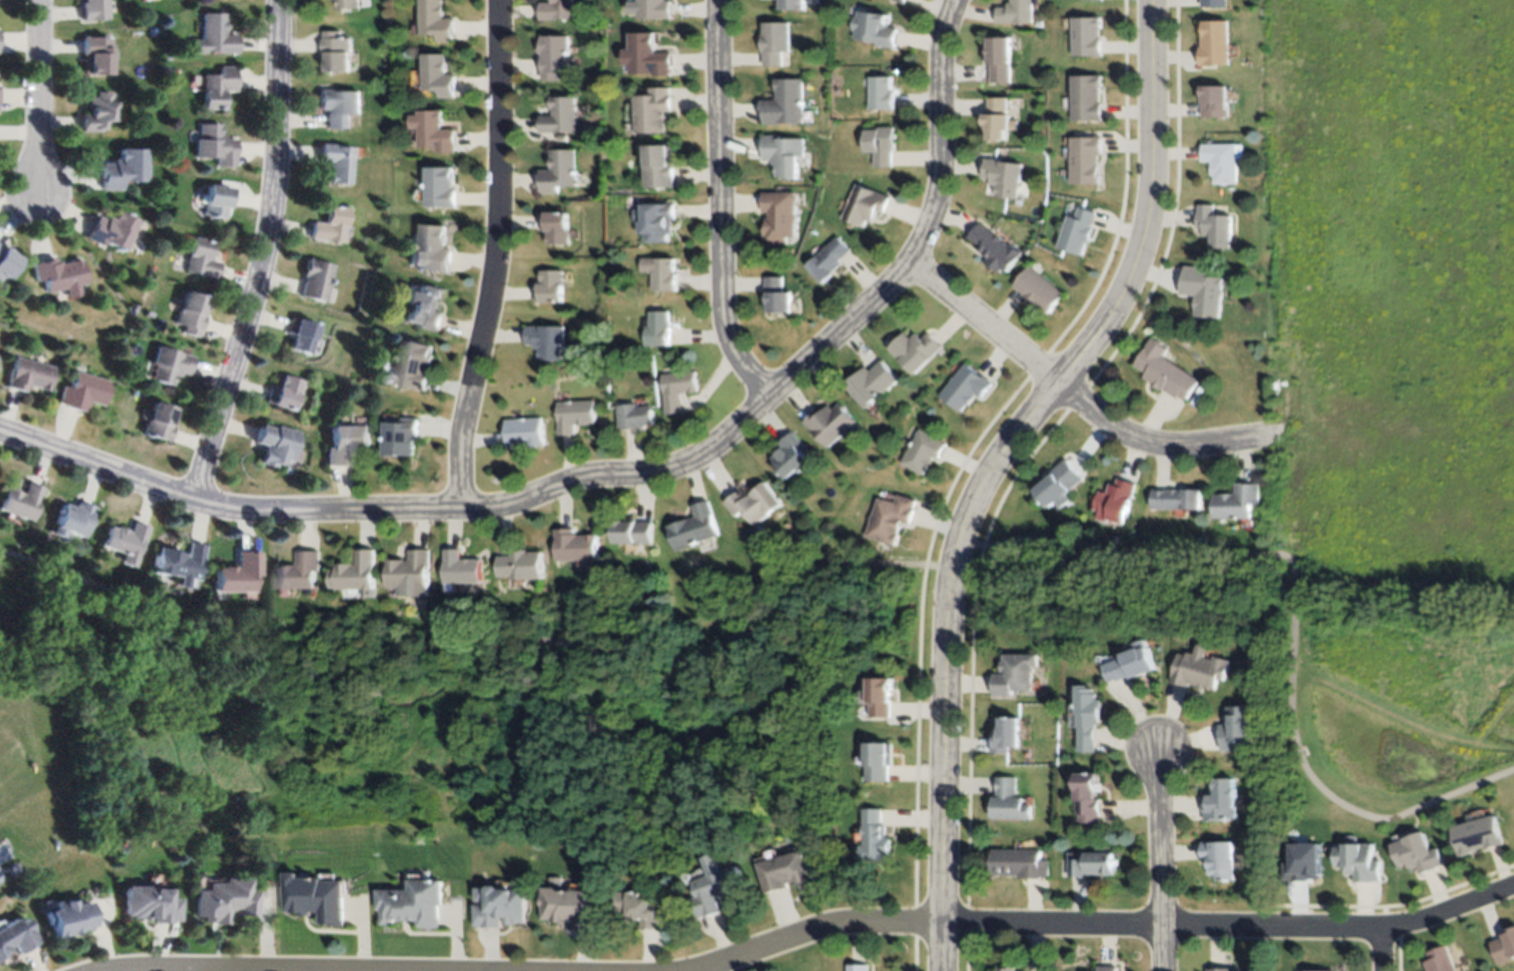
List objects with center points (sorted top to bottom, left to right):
building: (900, 0)
building: (1091, 0)
building: (1213, 2)
building: (347, 3)
building: (790, 3)
building: (554, 8)
building: (655, 8)
building: (93, 9)
building: (1013, 11)
building: (435, 21)
building: (871, 26)
building: (1085, 35)
building: (213, 37)
building: (774, 40)
building: (1213, 41)
building: (334, 49)
building: (94, 53)
building: (649, 53)
building: (551, 54)
building: (997, 58)
building: (436, 73)
building: (217, 85)
building: (880, 91)
road: (37, 96)
building: (1085, 96)
building: (1213, 99)
building: (783, 101)
building: (338, 103)
building: (653, 107)
building: (96, 111)
building: (558, 113)
building: (994, 116)
building: (431, 130)
building: (878, 143)
building: (216, 145)
building: (782, 152)
building: (1085, 158)
building: (340, 160)
building: (1219, 160)
building: (658, 165)
building: (121, 167)
building: (556, 170)
building: (1002, 175)
building: (438, 185)
building: (218, 199)
road: (720, 204)
building: (863, 204)
building: (778, 216)
building: (655, 220)
building: (334, 222)
building: (1212, 224)
building: (112, 227)
building: (554, 227)
building: (1076, 229)
building: (432, 248)
building: (994, 248)
road: (267, 254)
road: (491, 256)
building: (202, 257)
building: (828, 258)
building: (7, 260)
building: (659, 271)
building: (62, 274)
building: (319, 276)
building: (547, 286)
building: (1200, 287)
building: (1036, 288)
building: (775, 294)
building: (423, 306)
building: (193, 310)
building: (656, 326)
building: (306, 333)
building: (545, 338)
building: (913, 350)
building: (171, 362)
building: (413, 364)
building: (1162, 370)
building: (30, 372)
building: (869, 382)
building: (963, 385)
building: (673, 389)
building: (84, 390)
building: (289, 390)
road: (1072, 397)
building: (571, 414)
building: (631, 414)
building: (160, 420)
building: (828, 423)
building: (521, 431)
building: (398, 435)
building: (277, 443)
building: (345, 443)
building: (919, 450)
building: (790, 455)
road: (991, 465)
road: (620, 476)
building: (1057, 483)
building: (1175, 497)
building: (1113, 499)
building: (1236, 499)
building: (20, 500)
building: (753, 502)
building: (71, 517)
building: (887, 518)
building: (695, 526)
building: (631, 529)
building: (125, 537)
building: (574, 544)
road: (949, 555)
building: (179, 561)
building: (523, 563)
building: (461, 567)
building: (297, 570)
building: (239, 571)
building: (410, 571)
building: (356, 572)
road: (1289, 624)
road: (462, 643)
building: (1132, 664)
building: (1201, 670)
building: (1013, 672)
park: (1382, 680)
building: (879, 694)
building: (1088, 717)
building: (1237, 727)
building: (1006, 733)
building: (880, 759)
building: (1089, 795)
building: (1221, 799)
building: (1008, 800)
road: (1157, 833)
building: (1476, 834)
building: (875, 837)
building: (1417, 851)
building: (1219, 857)
building: (1358, 861)
building: (1019, 862)
building: (1091, 862)
building: (1305, 862)
building: (785, 870)
building: (715, 886)
building: (317, 897)
building: (223, 899)
building: (414, 902)
building: (151, 903)
building: (502, 906)
building: (572, 906)
building: (642, 909)
building: (68, 916)
road: (1106, 925)
building: (17, 934)
road: (1162, 948)
building: (1504, 948)
road: (1380, 950)
building: (1440, 960)
building: (856, 966)
building: (1004, 967)
building: (1105, 967)
road: (709, 969)
building: (1218, 969)
road: (132, 970)

